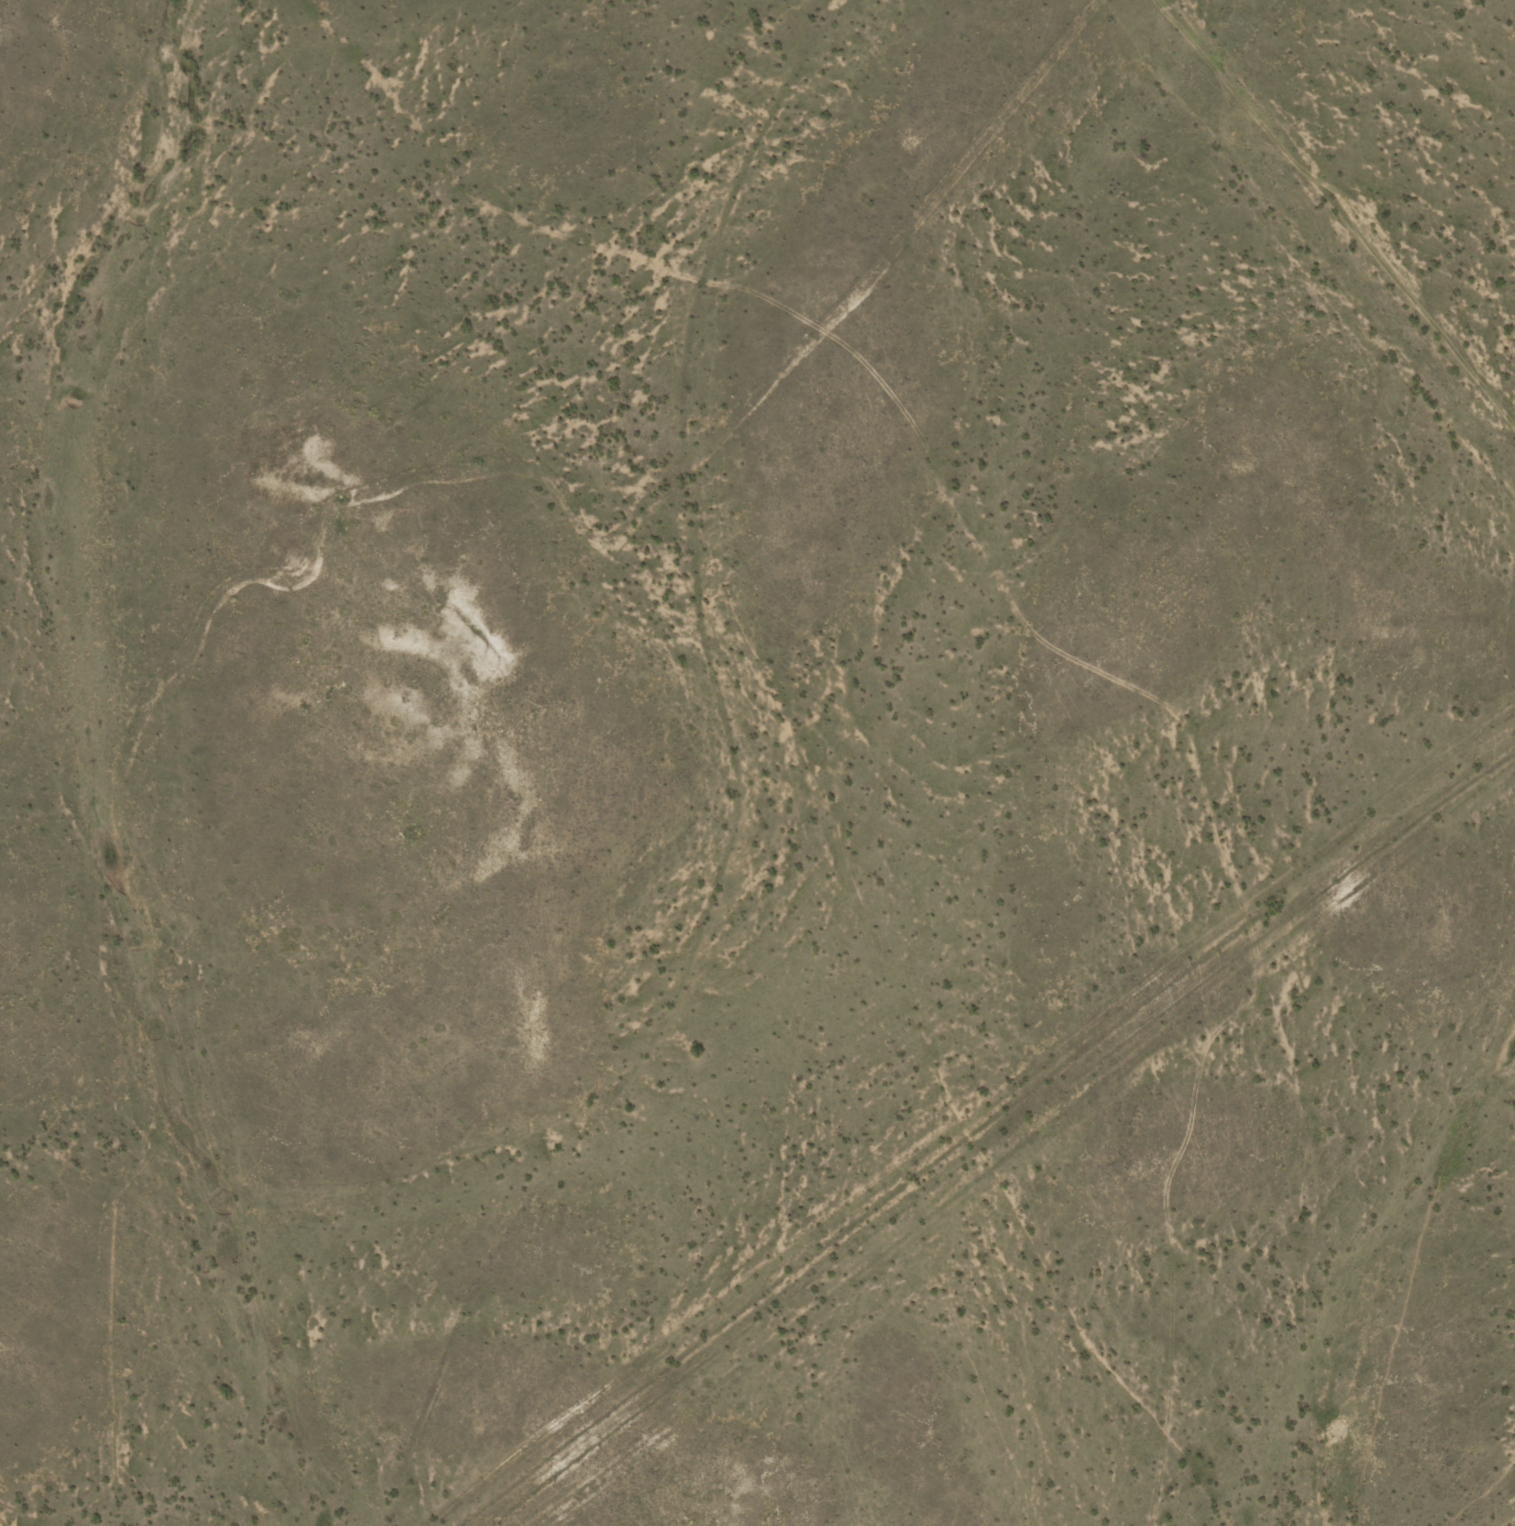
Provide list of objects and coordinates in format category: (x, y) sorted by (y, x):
road: (137, 769)
road: (1032, 1082)

